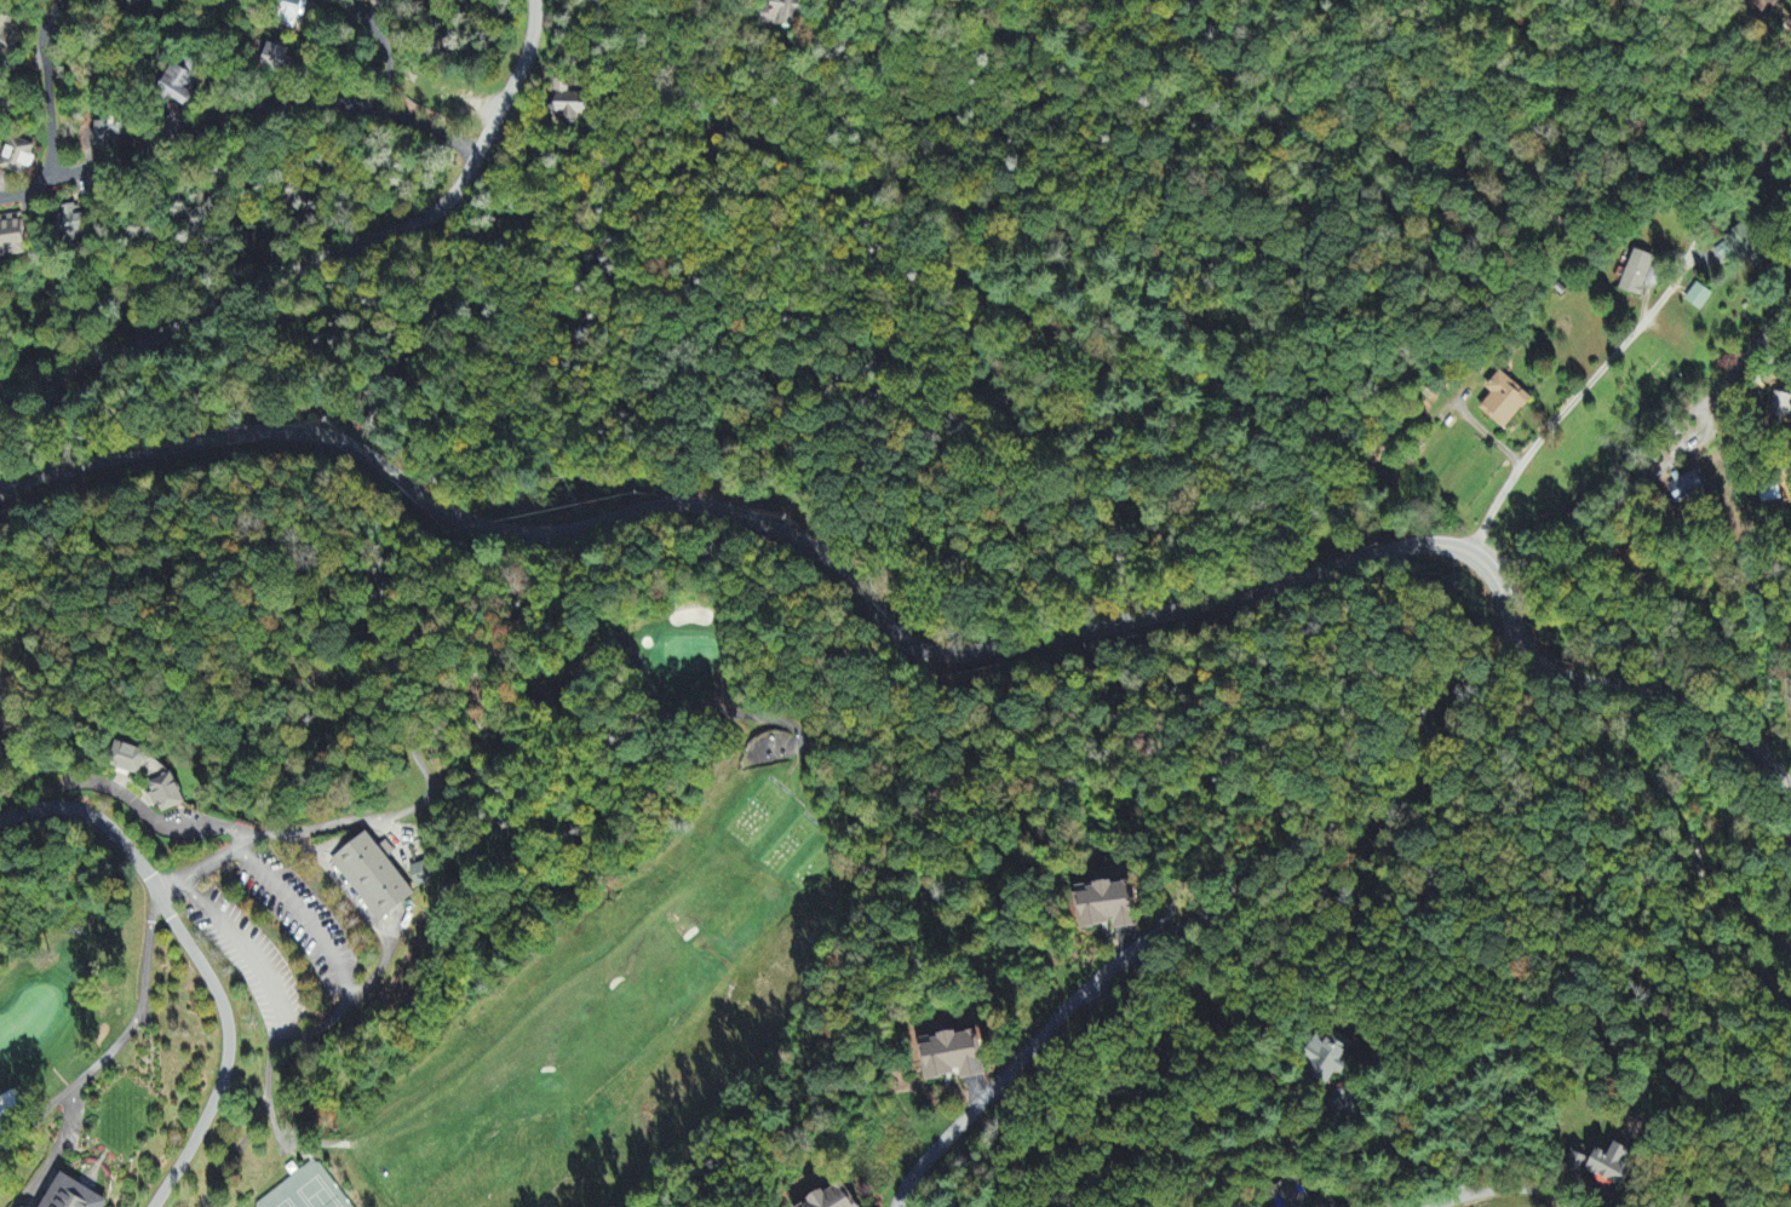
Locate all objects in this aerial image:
building: (854, 0)
building: (126, 4)
building: (1764, 5)
building: (292, 13)
building: (783, 13)
building: (7, 33)
road: (383, 46)
building: (275, 61)
building: (182, 82)
road: (51, 87)
building: (569, 103)
road: (237, 113)
building: (110, 136)
building: (18, 157)
building: (76, 224)
building: (12, 237)
building: (1747, 248)
road: (332, 260)
building: (1638, 274)
building: (1699, 298)
road: (1646, 340)
building: (1505, 401)
building: (1781, 408)
road: (1661, 455)
building: (1687, 485)
road: (915, 650)
building: (128, 760)
building: (166, 794)
building: (423, 875)
building: (373, 878)
building: (1108, 907)
road: (306, 914)
park: (507, 932)
road: (247, 949)
road: (194, 959)
road: (379, 966)
park: (45, 1019)
road: (1039, 1039)
road: (107, 1058)
building: (953, 1058)
building: (1326, 1062)
building: (1578, 1163)
building: (1613, 1168)
road: (1498, 1190)
building: (1291, 1192)
building: (73, 1196)
building: (836, 1199)

